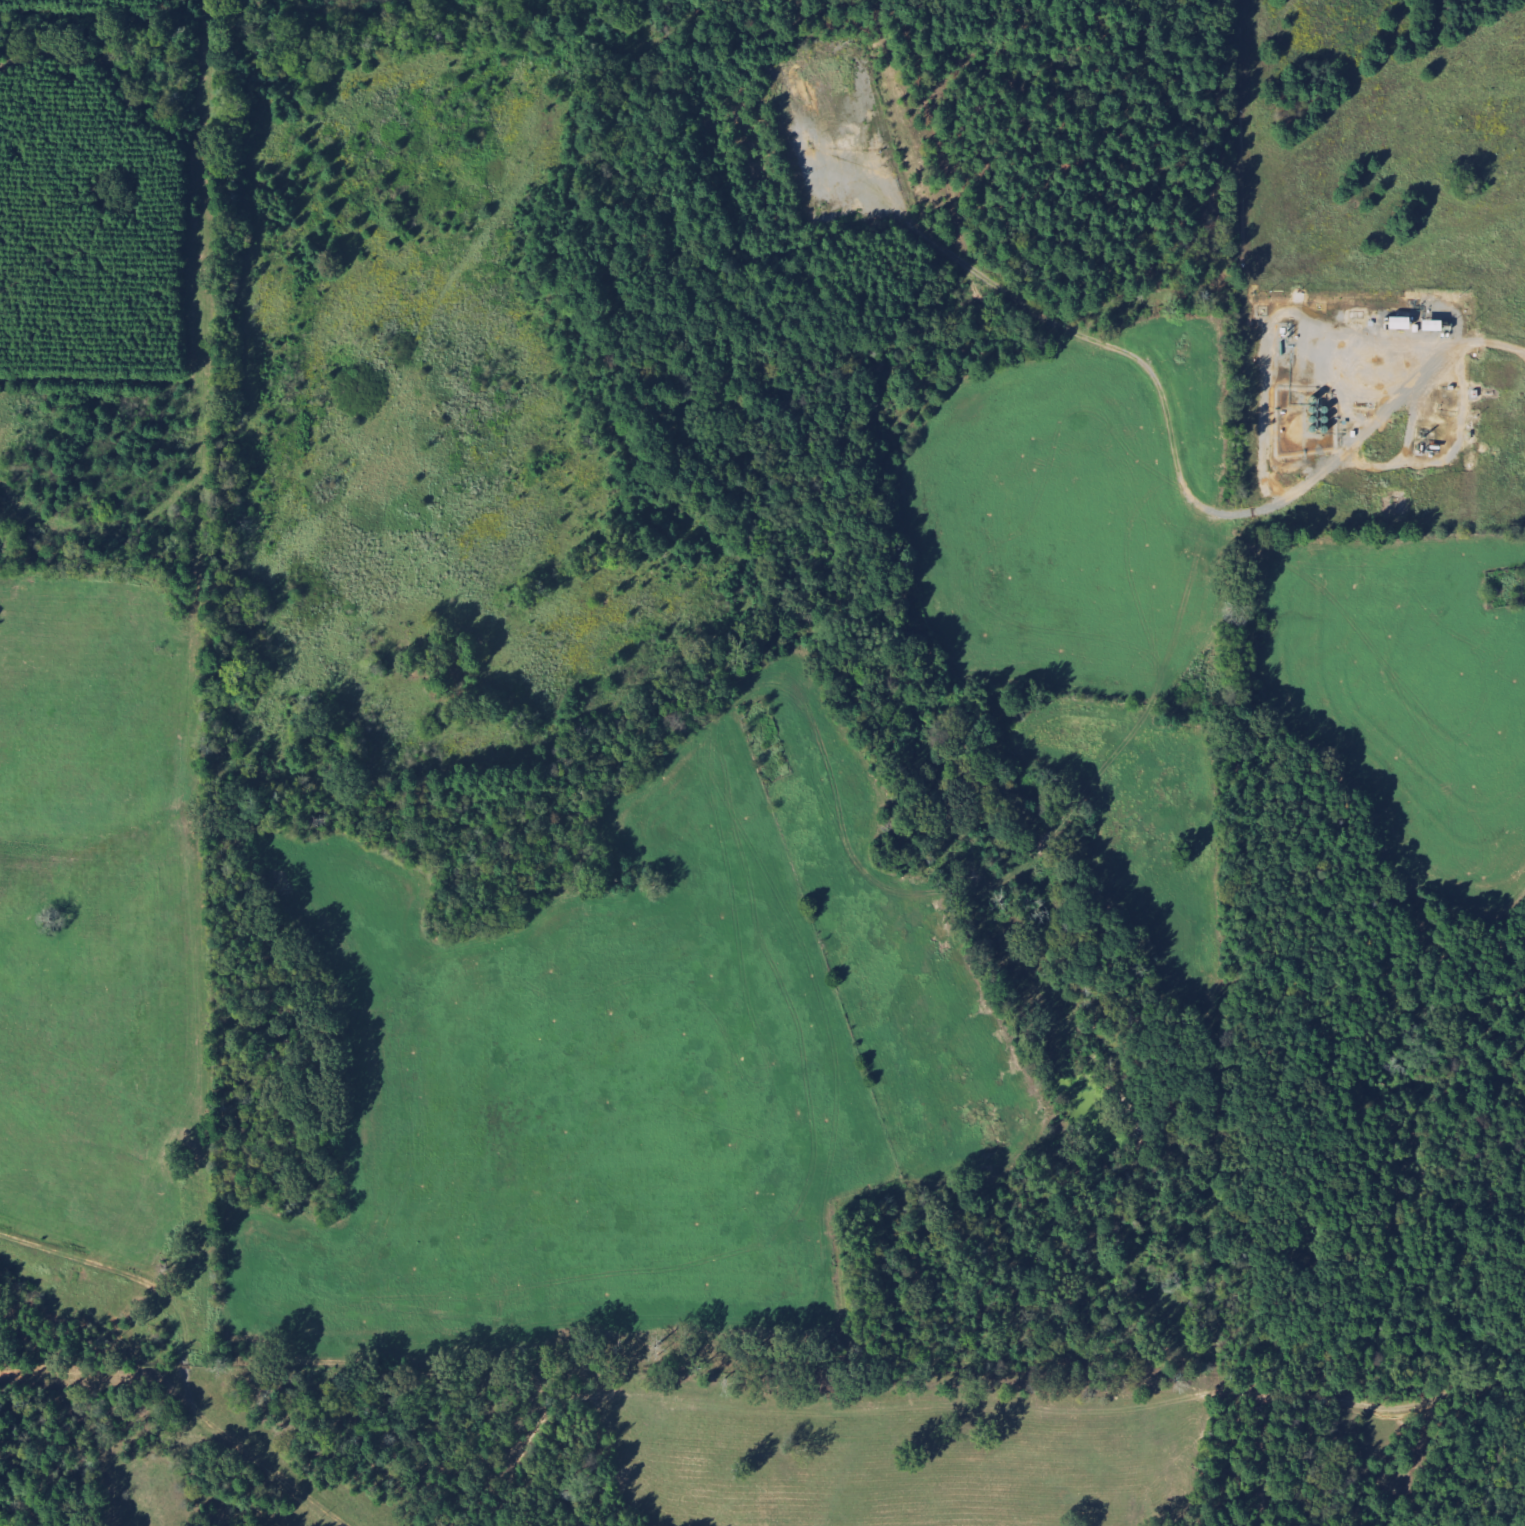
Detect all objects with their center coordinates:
building: (1434, 325)

